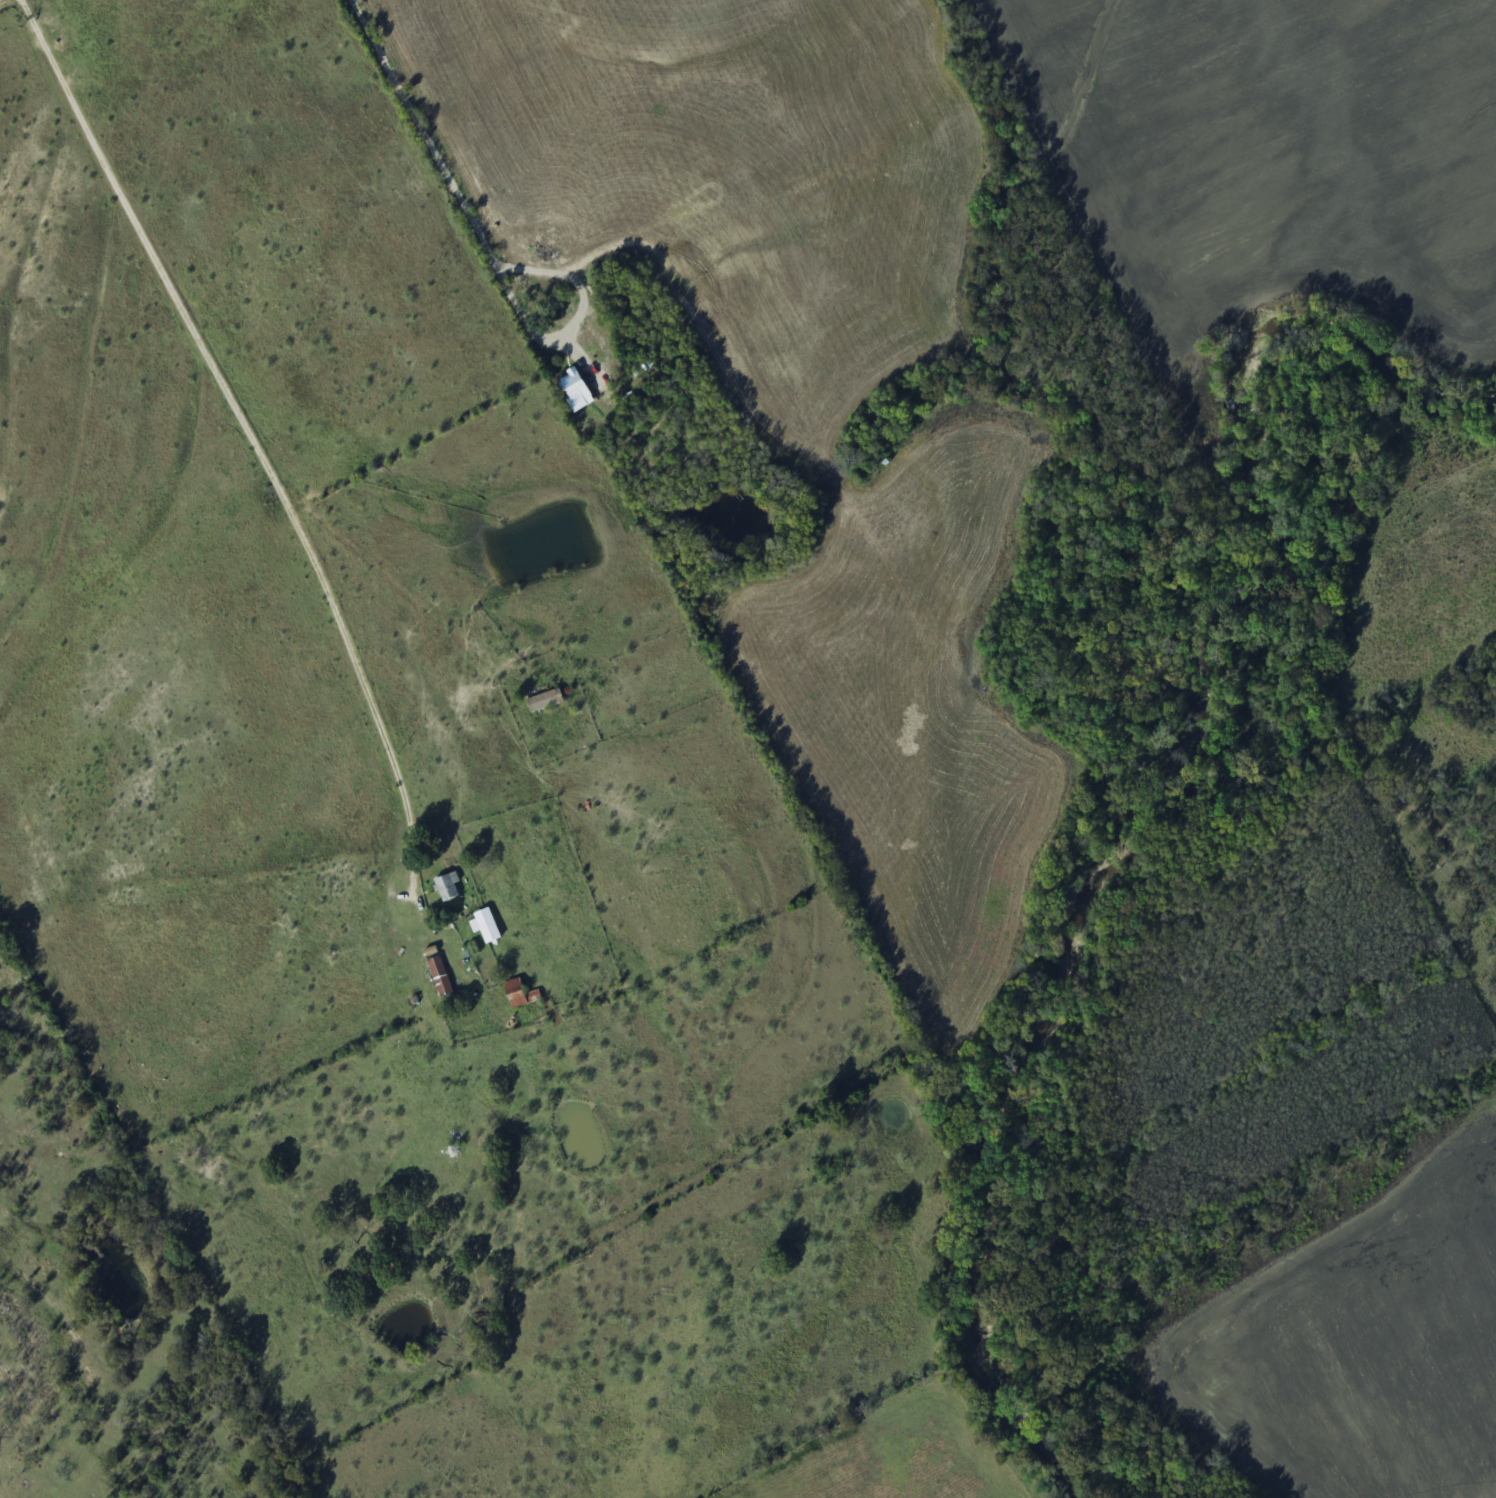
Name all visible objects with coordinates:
road: (799, 38)
road: (456, 238)
building: (577, 386)
building: (547, 700)
building: (448, 886)
building: (485, 919)
building: (442, 978)
building: (520, 994)

